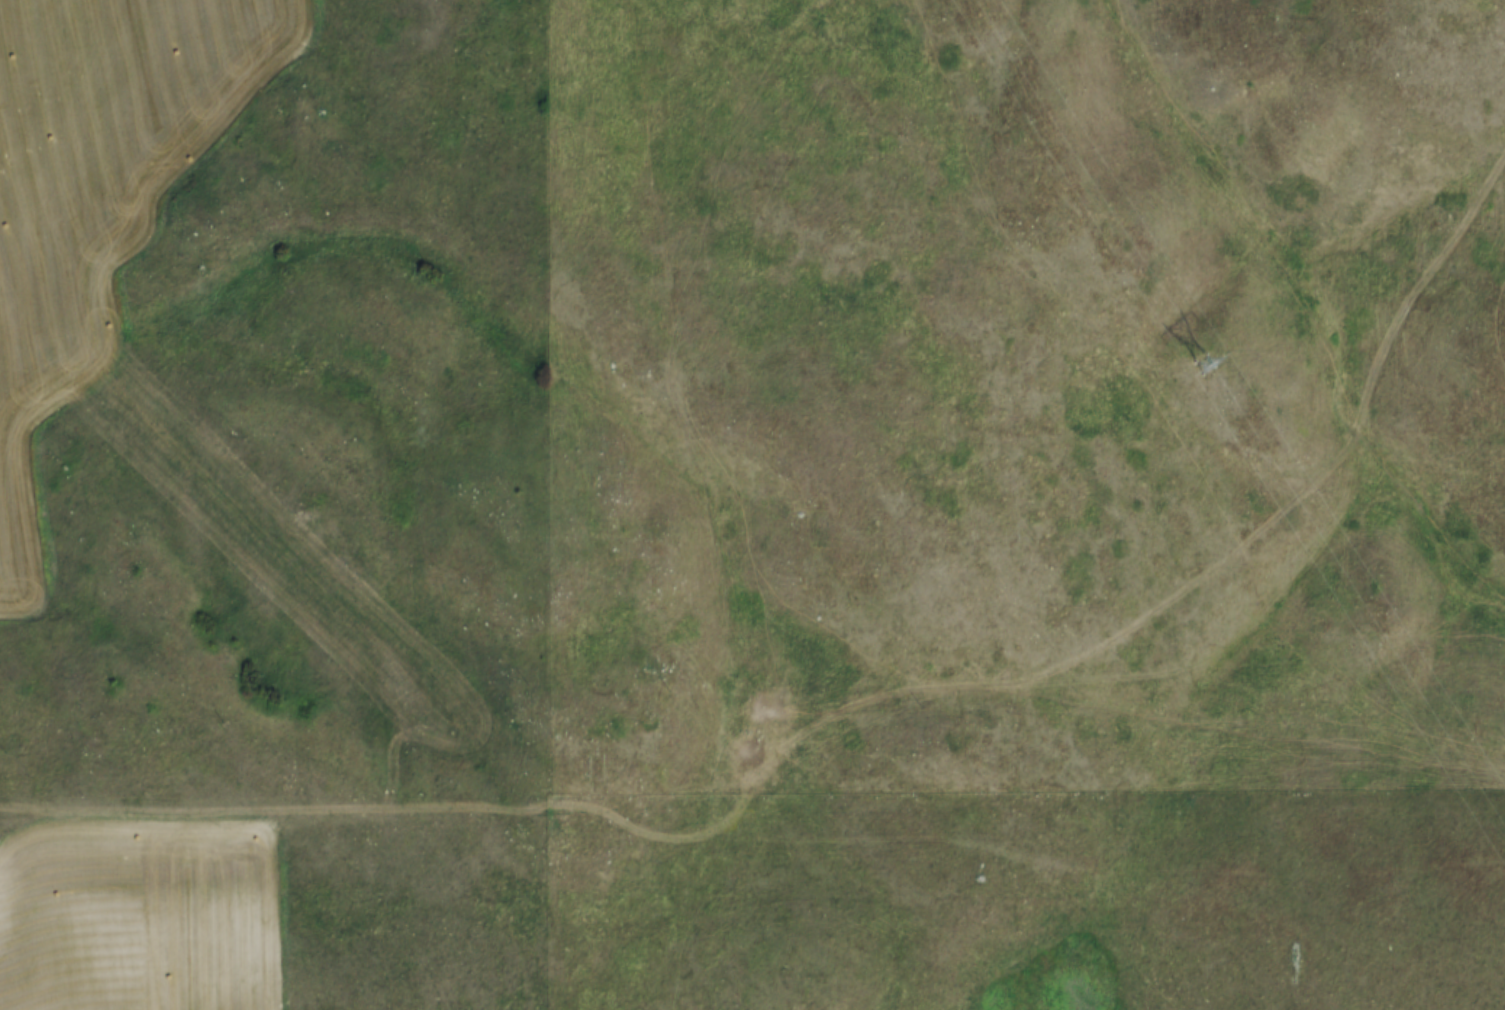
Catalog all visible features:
power tower: (1205, 369)

